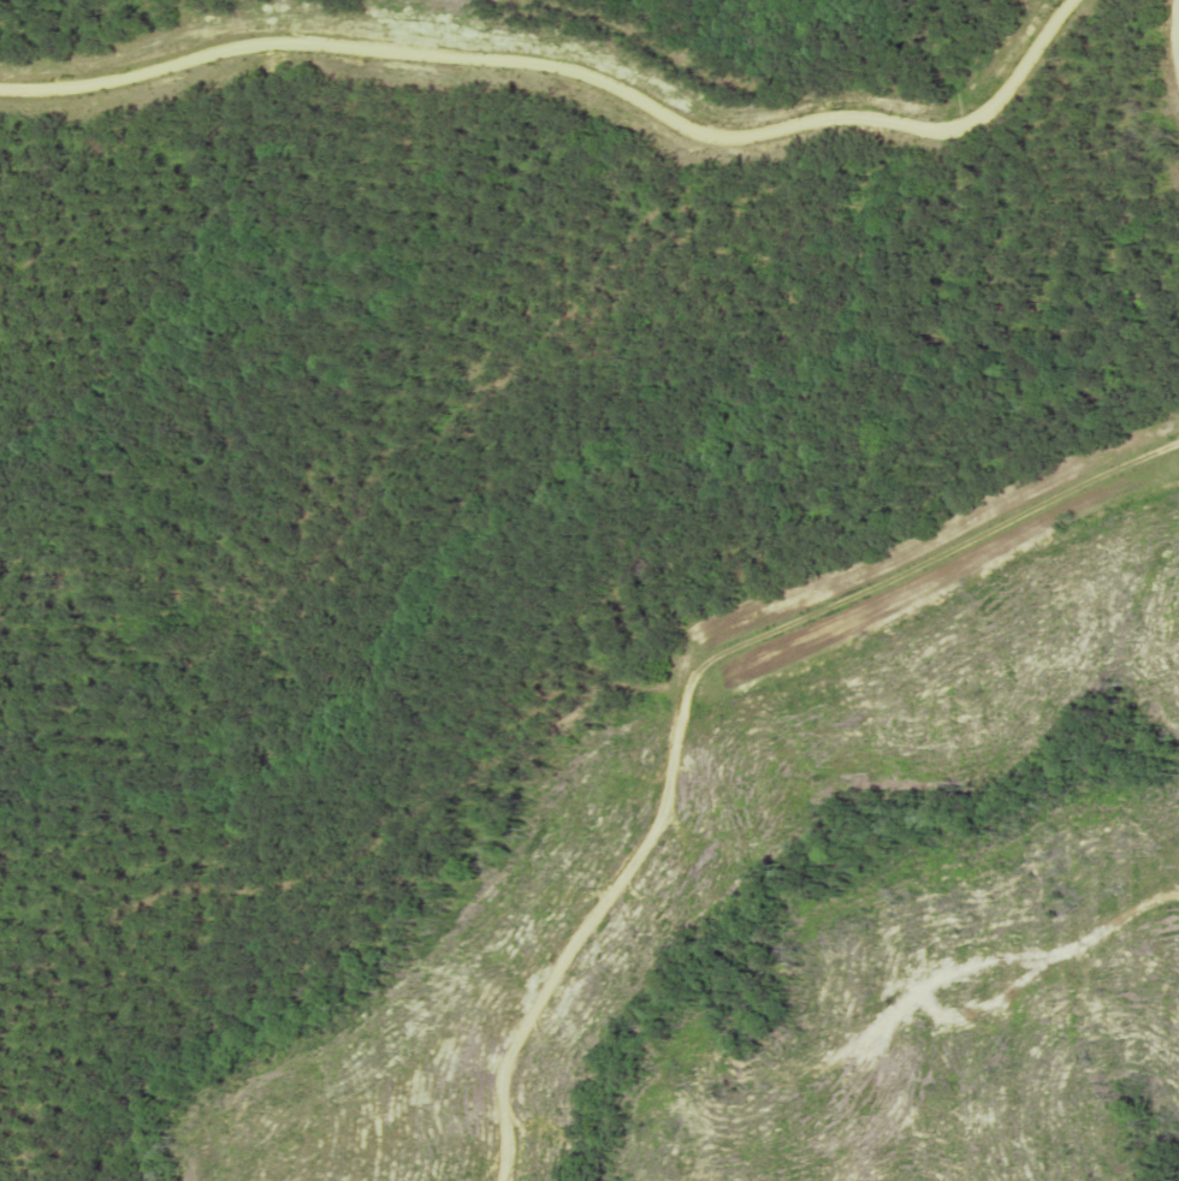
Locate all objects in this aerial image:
road: (1177, 24)
road: (556, 67)

